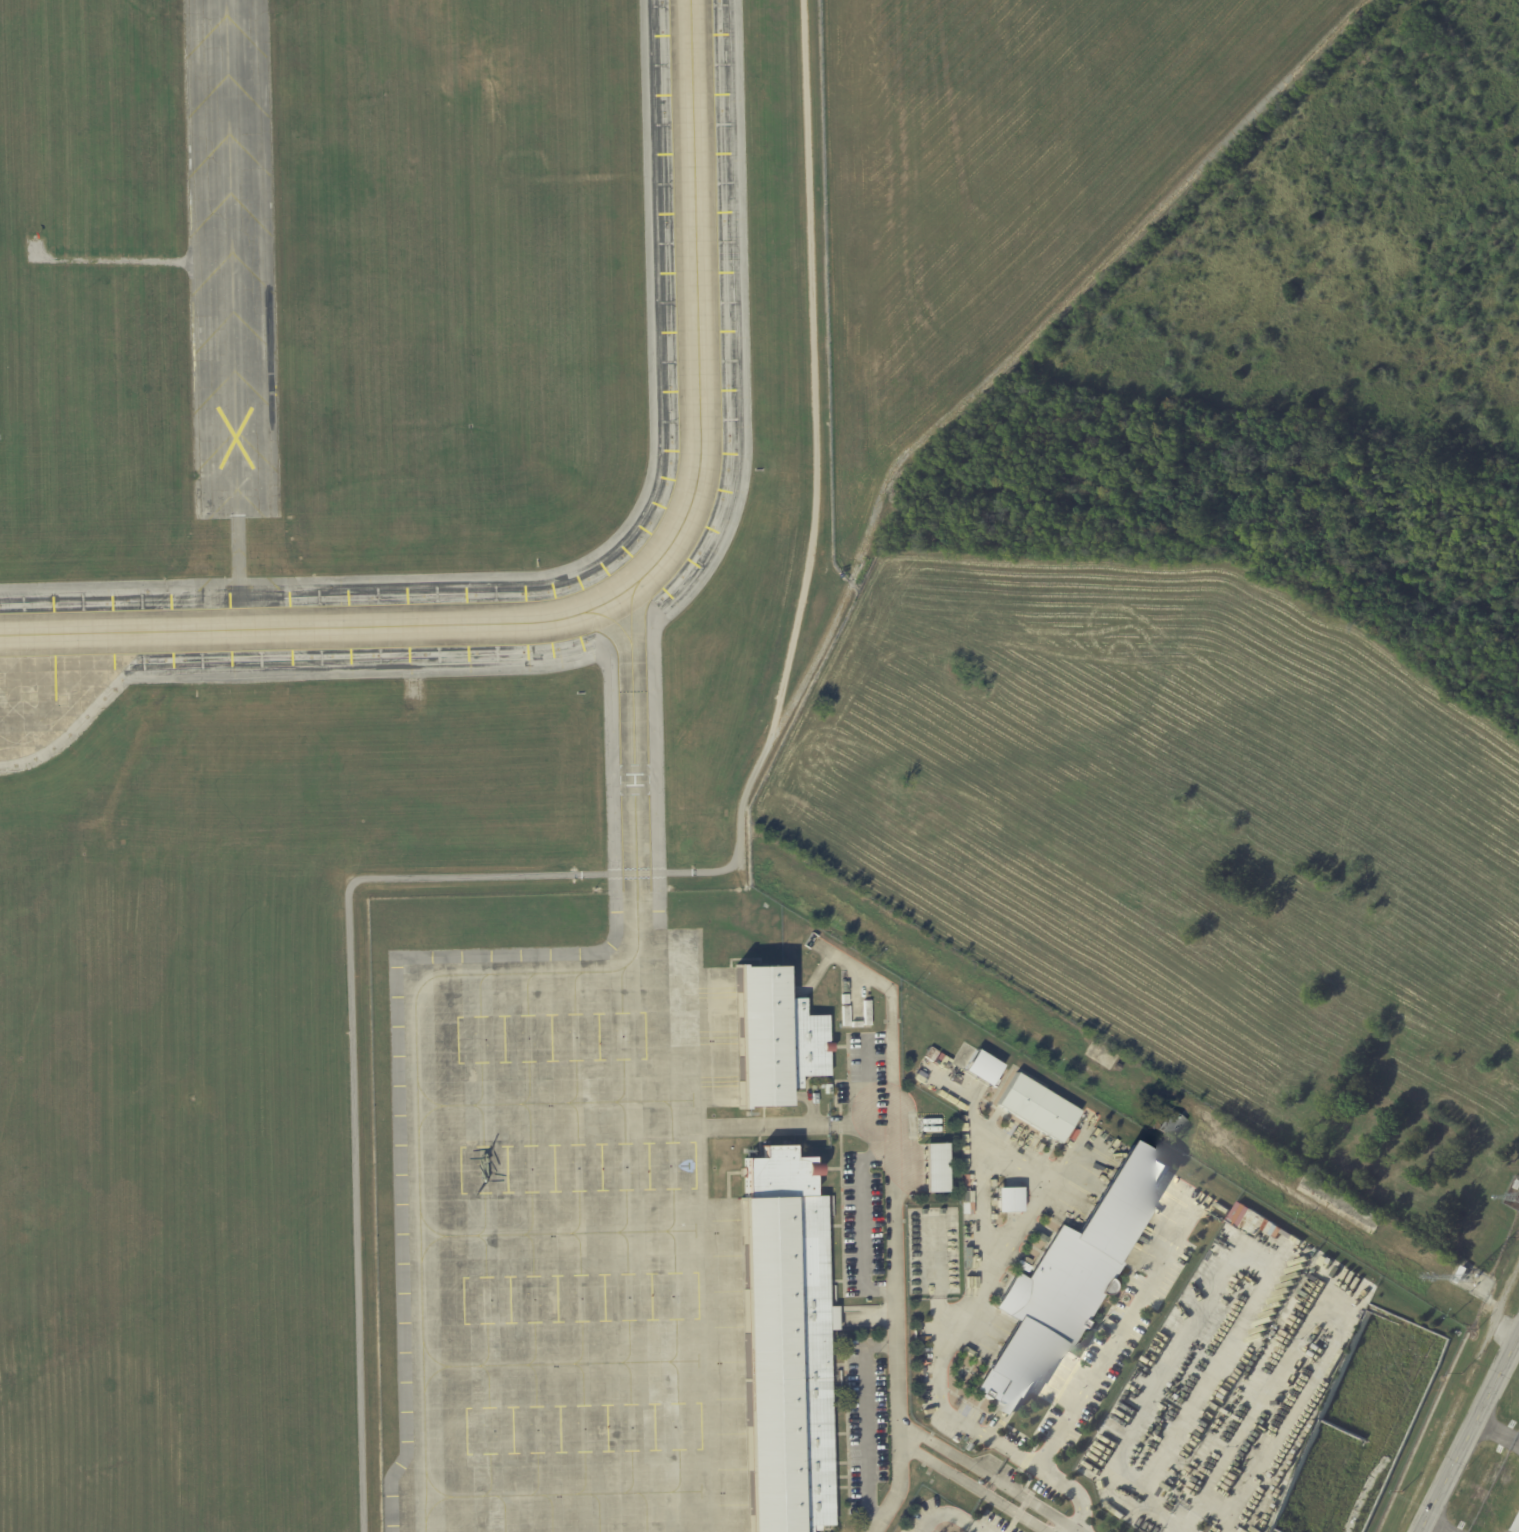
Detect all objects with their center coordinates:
airport taxiway: (617, 594)
airport taxiway: (613, 620)
airport: (759, 766)
airport taxiway: (446, 973)
building: (774, 1038)
building: (1119, 1066)
building: (981, 1067)
building: (1039, 1108)
building: (1174, 1122)
building: (1027, 1147)
building: (939, 1166)
building: (1517, 1185)
road: (893, 1187)
building: (1010, 1200)
building: (1249, 1221)
building: (1464, 1273)
building: (1075, 1276)
road: (1339, 1335)
building: (786, 1344)
road: (1466, 1427)
road: (946, 1449)
road: (867, 1466)
road: (941, 1466)
road: (1036, 1504)
road: (1015, 1512)
road: (945, 1516)
road: (979, 1529)

